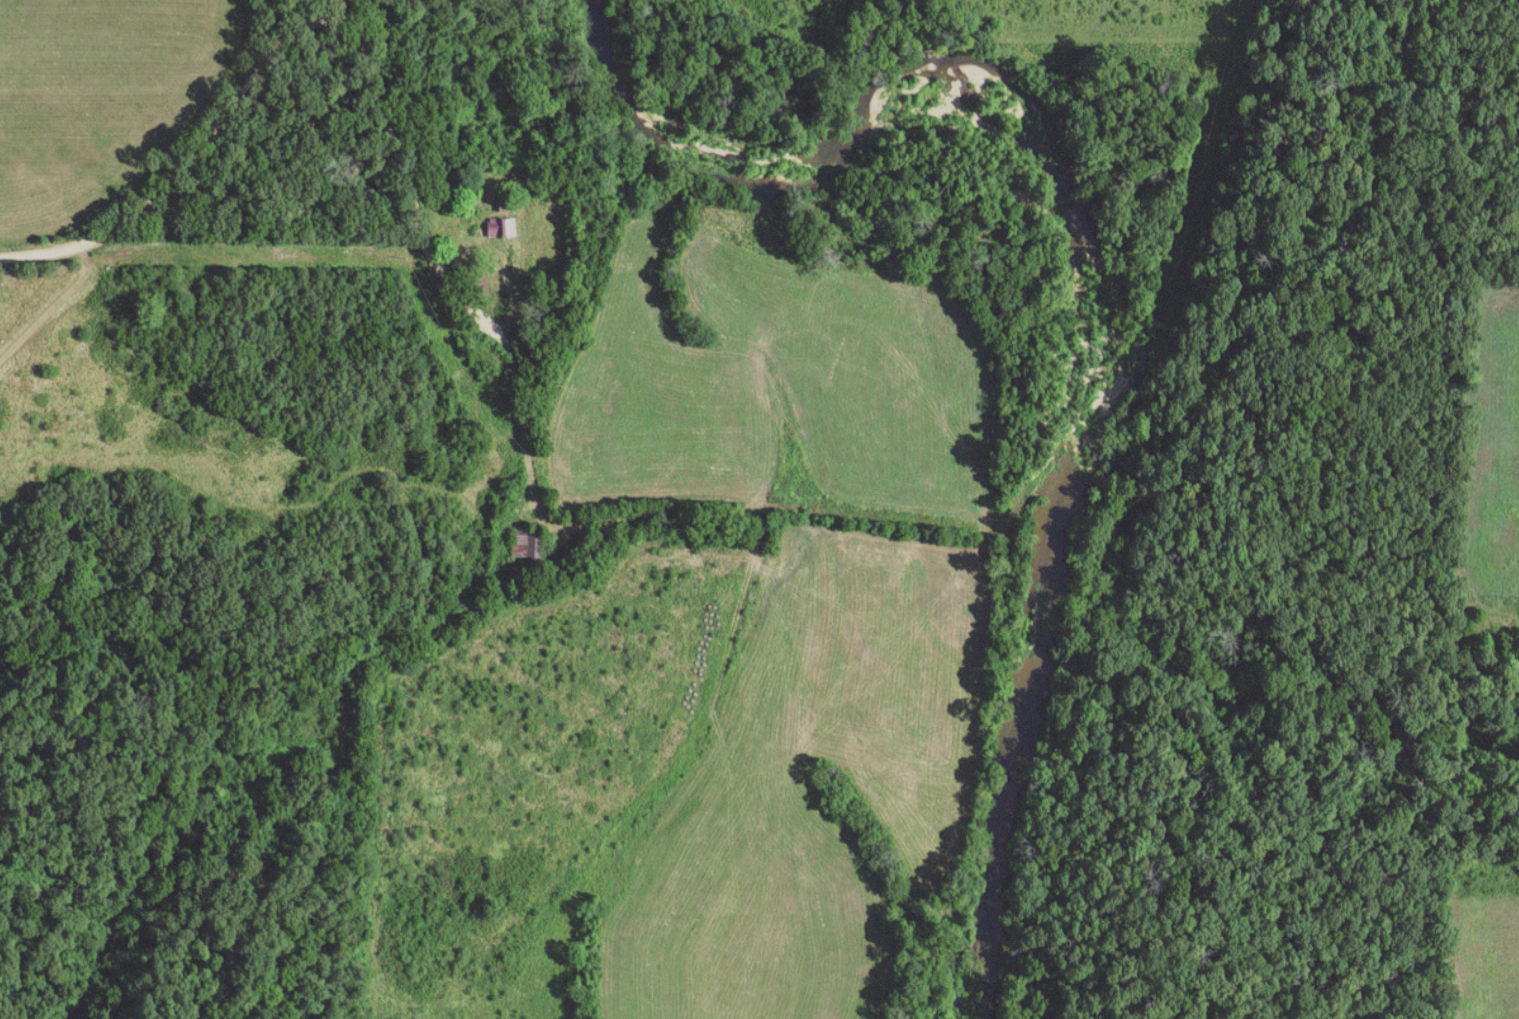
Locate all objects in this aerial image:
road: (270, 52)
building: (501, 227)
road: (534, 464)

